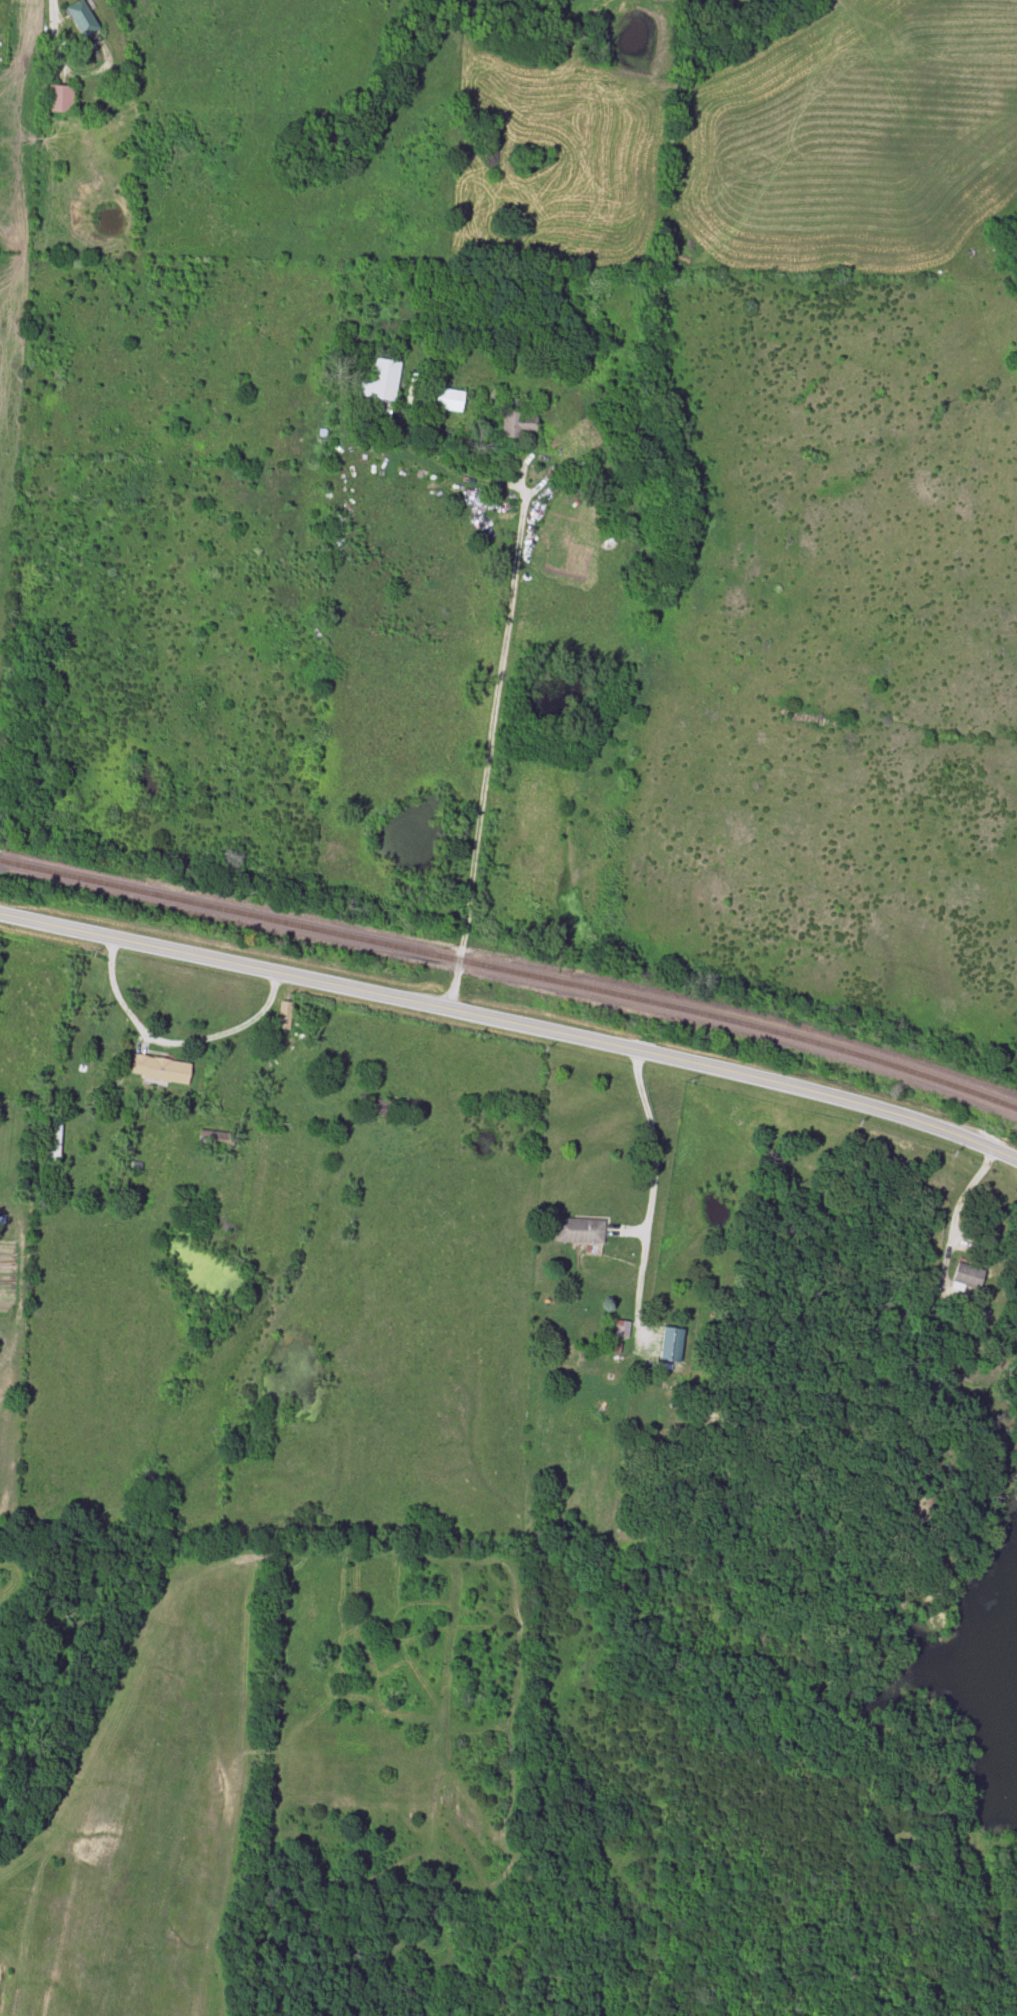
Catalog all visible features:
building: (83, 18)
road: (51, 25)
building: (61, 99)
building: (383, 381)
building: (450, 400)
building: (517, 420)
road: (483, 752)
railway: (513, 970)
building: (285, 1014)
road: (511, 1027)
road: (169, 1041)
building: (161, 1069)
building: (69, 1084)
building: (213, 1139)
road: (651, 1142)
building: (51, 1144)
road: (953, 1206)
building: (579, 1230)
building: (967, 1277)
building: (621, 1328)
building: (672, 1344)
building: (931, 1381)
building: (713, 1409)

